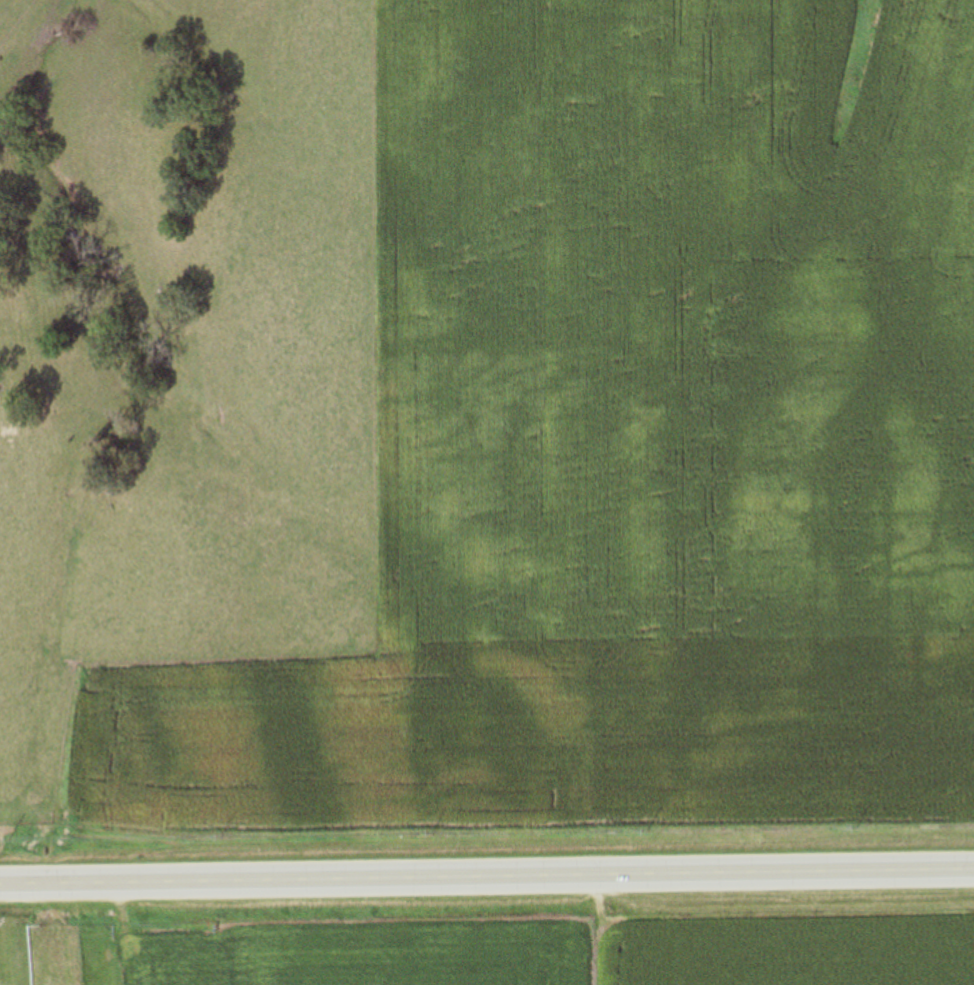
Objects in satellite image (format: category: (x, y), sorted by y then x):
road: (487, 880)

